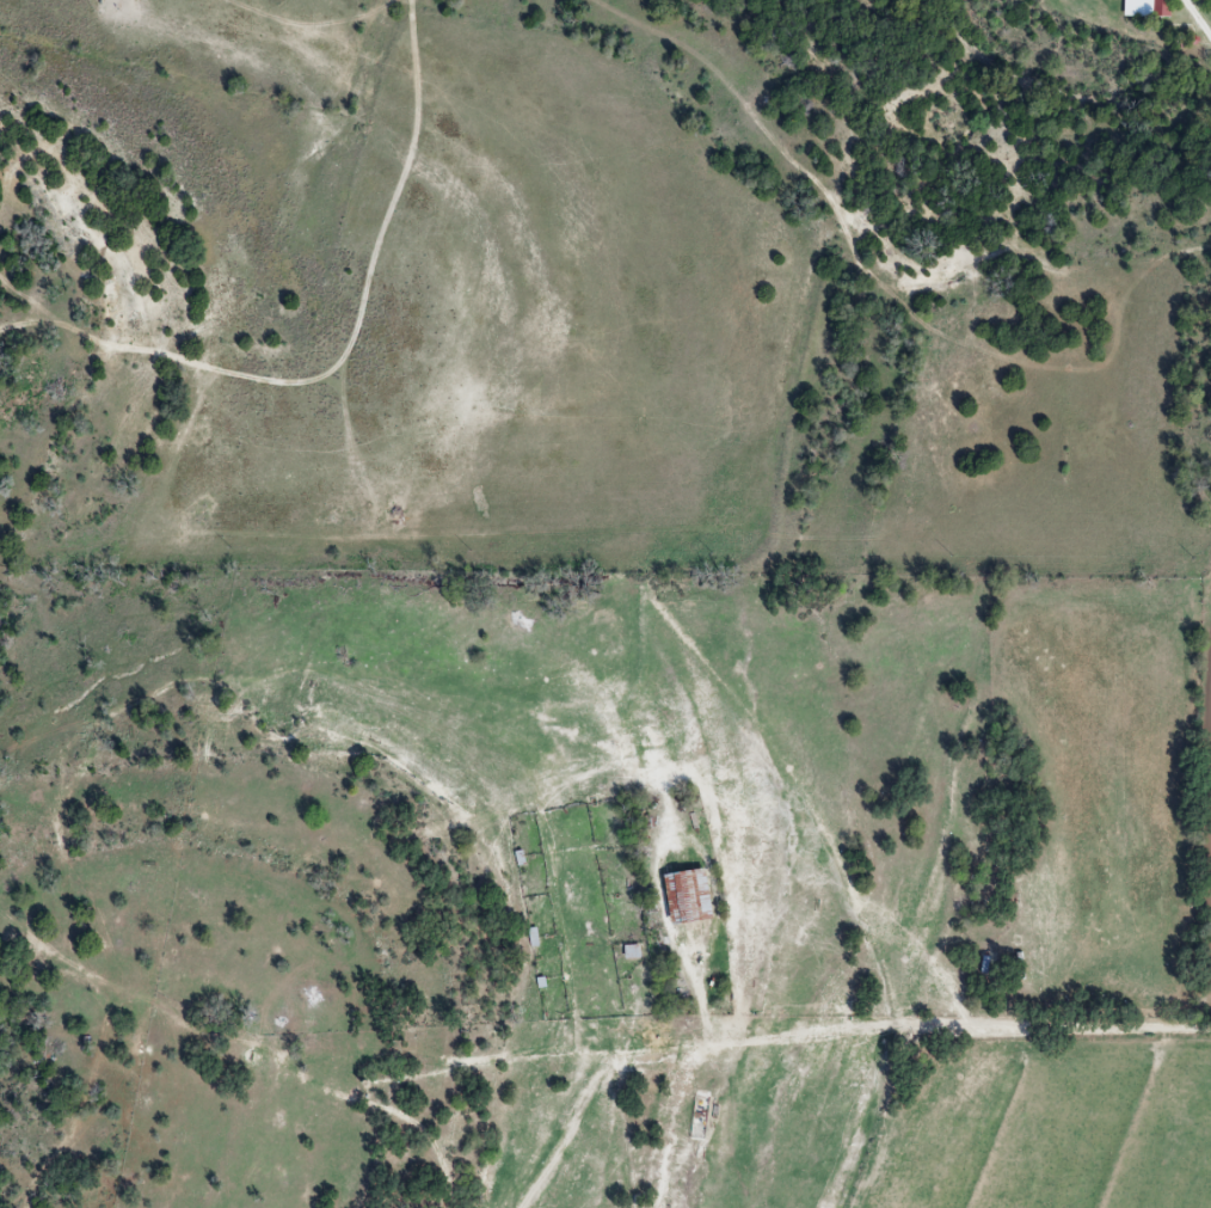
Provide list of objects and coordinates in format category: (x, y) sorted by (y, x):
building: (1154, 7)
road: (1199, 17)
building: (694, 895)
building: (988, 962)

